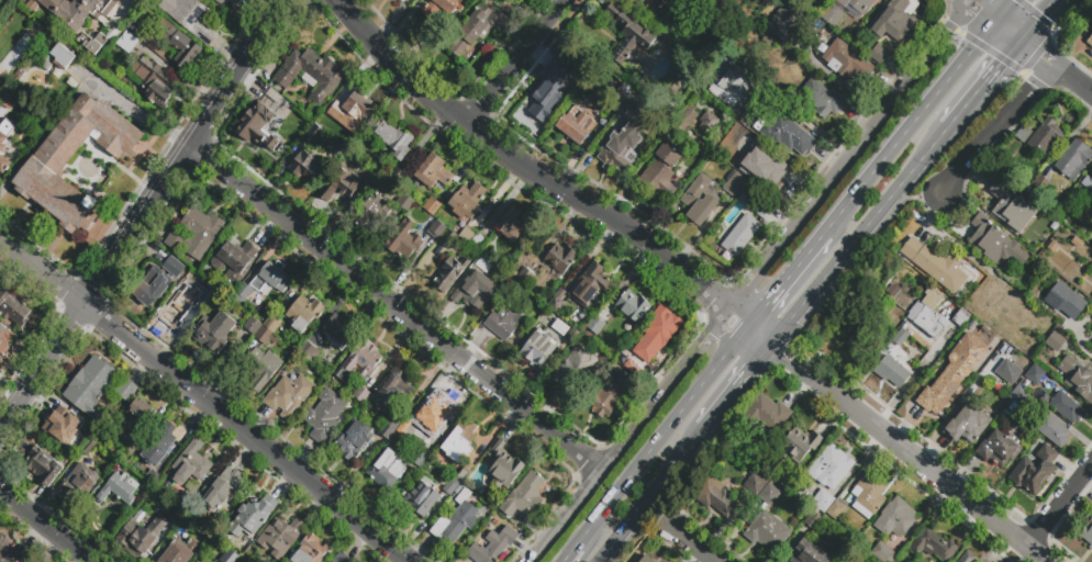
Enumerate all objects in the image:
building: (400, 0)
building: (215, 1)
building: (220, 1)
building: (640, 1)
building: (677, 1)
building: (758, 1)
building: (234, 2)
building: (445, 7)
traffic signals: (982, 8)
road: (984, 9)
road: (1004, 10)
building: (846, 11)
road: (1035, 12)
building: (190, 18)
building: (80, 20)
road: (1036, 20)
road: (1073, 21)
building: (787, 22)
building: (894, 22)
road: (951, 27)
building: (138, 30)
road: (1009, 30)
building: (477, 31)
road: (959, 32)
road: (1049, 32)
building: (628, 35)
building: (7, 38)
building: (127, 43)
building: (177, 44)
building: (1090, 45)
road: (1035, 52)
building: (879, 53)
road: (992, 53)
road: (1035, 55)
building: (57, 57)
traffic signals: (1041, 57)
road: (513, 61)
building: (846, 61)
traffic signals: (1002, 63)
road: (999, 65)
building: (312, 74)
road: (836, 77)
road: (1072, 77)
building: (0, 80)
building: (155, 86)
building: (731, 88)
building: (625, 91)
building: (550, 92)
building: (8, 98)
building: (824, 99)
building: (637, 104)
building: (275, 106)
building: (359, 108)
road: (961, 110)
building: (331, 116)
building: (684, 120)
road: (804, 121)
building: (709, 123)
building: (576, 125)
road: (910, 125)
road: (995, 128)
building: (261, 132)
building: (314, 133)
building: (785, 133)
building: (1023, 134)
building: (1045, 136)
building: (395, 140)
building: (4, 145)
building: (338, 150)
building: (621, 150)
road: (848, 153)
building: (1073, 159)
building: (767, 161)
building: (1014, 165)
road: (915, 166)
building: (304, 167)
road: (523, 167)
building: (46, 169)
building: (662, 170)
building: (434, 172)
building: (369, 177)
building: (397, 181)
building: (1039, 182)
building: (342, 183)
building: (735, 183)
building: (1088, 184)
road: (929, 194)
building: (700, 200)
road: (902, 200)
building: (467, 201)
building: (753, 202)
building: (405, 204)
building: (432, 206)
building: (1012, 209)
building: (372, 212)
road: (143, 217)
building: (512, 227)
building: (437, 229)
building: (194, 233)
building: (467, 235)
building: (739, 235)
building: (448, 238)
building: (403, 239)
building: (478, 243)
building: (995, 244)
building: (560, 259)
building: (235, 261)
road: (834, 263)
building: (937, 266)
building: (450, 272)
building: (275, 277)
road: (785, 279)
building: (525, 280)
building: (157, 282)
building: (589, 285)
building: (476, 291)
building: (205, 292)
building: (244, 294)
building: (893, 294)
building: (1065, 301)
building: (556, 303)
building: (633, 306)
building: (177, 308)
road: (395, 308)
building: (15, 311)
building: (305, 311)
building: (927, 314)
road: (737, 317)
building: (961, 317)
building: (503, 321)
building: (272, 324)
building: (595, 325)
building: (252, 326)
building: (914, 329)
building: (1091, 329)
building: (336, 331)
building: (213, 333)
road: (725, 333)
building: (570, 334)
road: (757, 335)
road: (776, 335)
building: (655, 336)
building: (266, 338)
building: (900, 338)
building: (4, 339)
building: (867, 340)
road: (735, 341)
building: (1055, 341)
building: (602, 342)
building: (1091, 342)
road: (788, 345)
building: (1091, 345)
building: (538, 348)
building: (309, 353)
road: (782, 355)
road: (152, 358)
building: (359, 362)
building: (576, 367)
building: (263, 369)
building: (892, 371)
building: (1007, 371)
building: (320, 374)
building: (952, 374)
building: (1033, 375)
building: (1077, 378)
road: (735, 386)
building: (89, 387)
building: (394, 390)
road: (665, 390)
building: (126, 391)
building: (360, 394)
building: (289, 395)
building: (1018, 395)
building: (609, 398)
building: (1069, 409)
building: (140, 412)
building: (325, 415)
building: (765, 416)
building: (395, 421)
road: (672, 421)
building: (436, 423)
building: (967, 423)
building: (62, 426)
building: (404, 430)
building: (1051, 430)
building: (388, 432)
building: (459, 441)
building: (354, 442)
building: (160, 445)
building: (800, 446)
building: (130, 447)
building: (88, 448)
building: (1000, 449)
road: (910, 457)
building: (420, 459)
building: (192, 463)
building: (42, 467)
building: (504, 467)
road: (672, 467)
building: (829, 467)
building: (430, 468)
building: (387, 470)
building: (465, 471)
building: (1035, 471)
building: (152, 476)
building: (783, 480)
building: (75, 483)
building: (756, 483)
building: (452, 486)
building: (116, 487)
building: (223, 487)
building: (459, 487)
building: (769, 494)
building: (526, 496)
building: (715, 496)
building: (867, 496)
building: (422, 497)
building: (186, 504)
road: (1057, 506)
building: (823, 509)
building: (250, 516)
road: (565, 516)
road: (599, 516)
road: (353, 518)
building: (457, 518)
building: (895, 518)
building: (158, 525)
road: (43, 526)
road: (621, 532)
building: (768, 532)
building: (1088, 533)
building: (281, 536)
building: (136, 537)
building: (491, 543)
road: (691, 543)
building: (933, 546)
building: (5, 550)
building: (309, 550)
building: (178, 552)
building: (22, 553)
road: (569, 553)
building: (810, 553)
building: (883, 553)
road: (1032, 555)
building: (230, 557)
building: (966, 557)
building: (45, 558)
building: (343, 559)
road: (403, 560)
building: (646, 560)
building: (196, 561)
road: (598, 561)
building: (981, 561)

